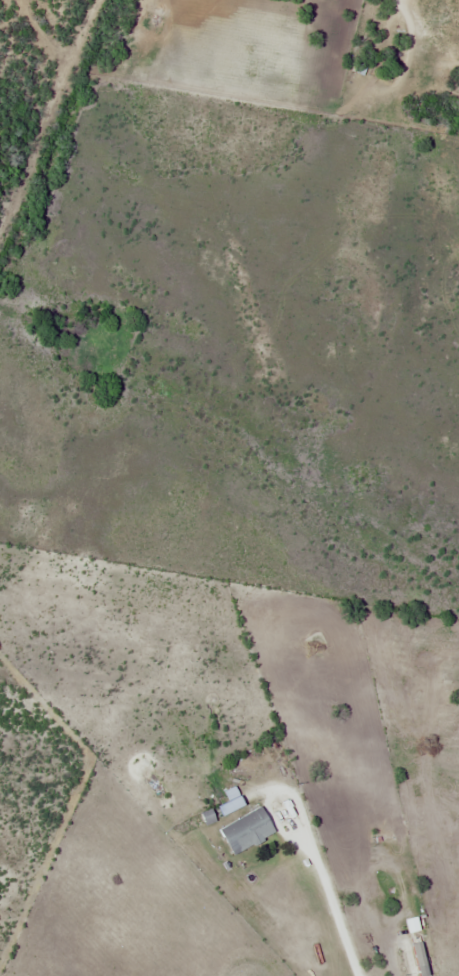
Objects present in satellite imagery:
building: (232, 802)
building: (248, 829)

